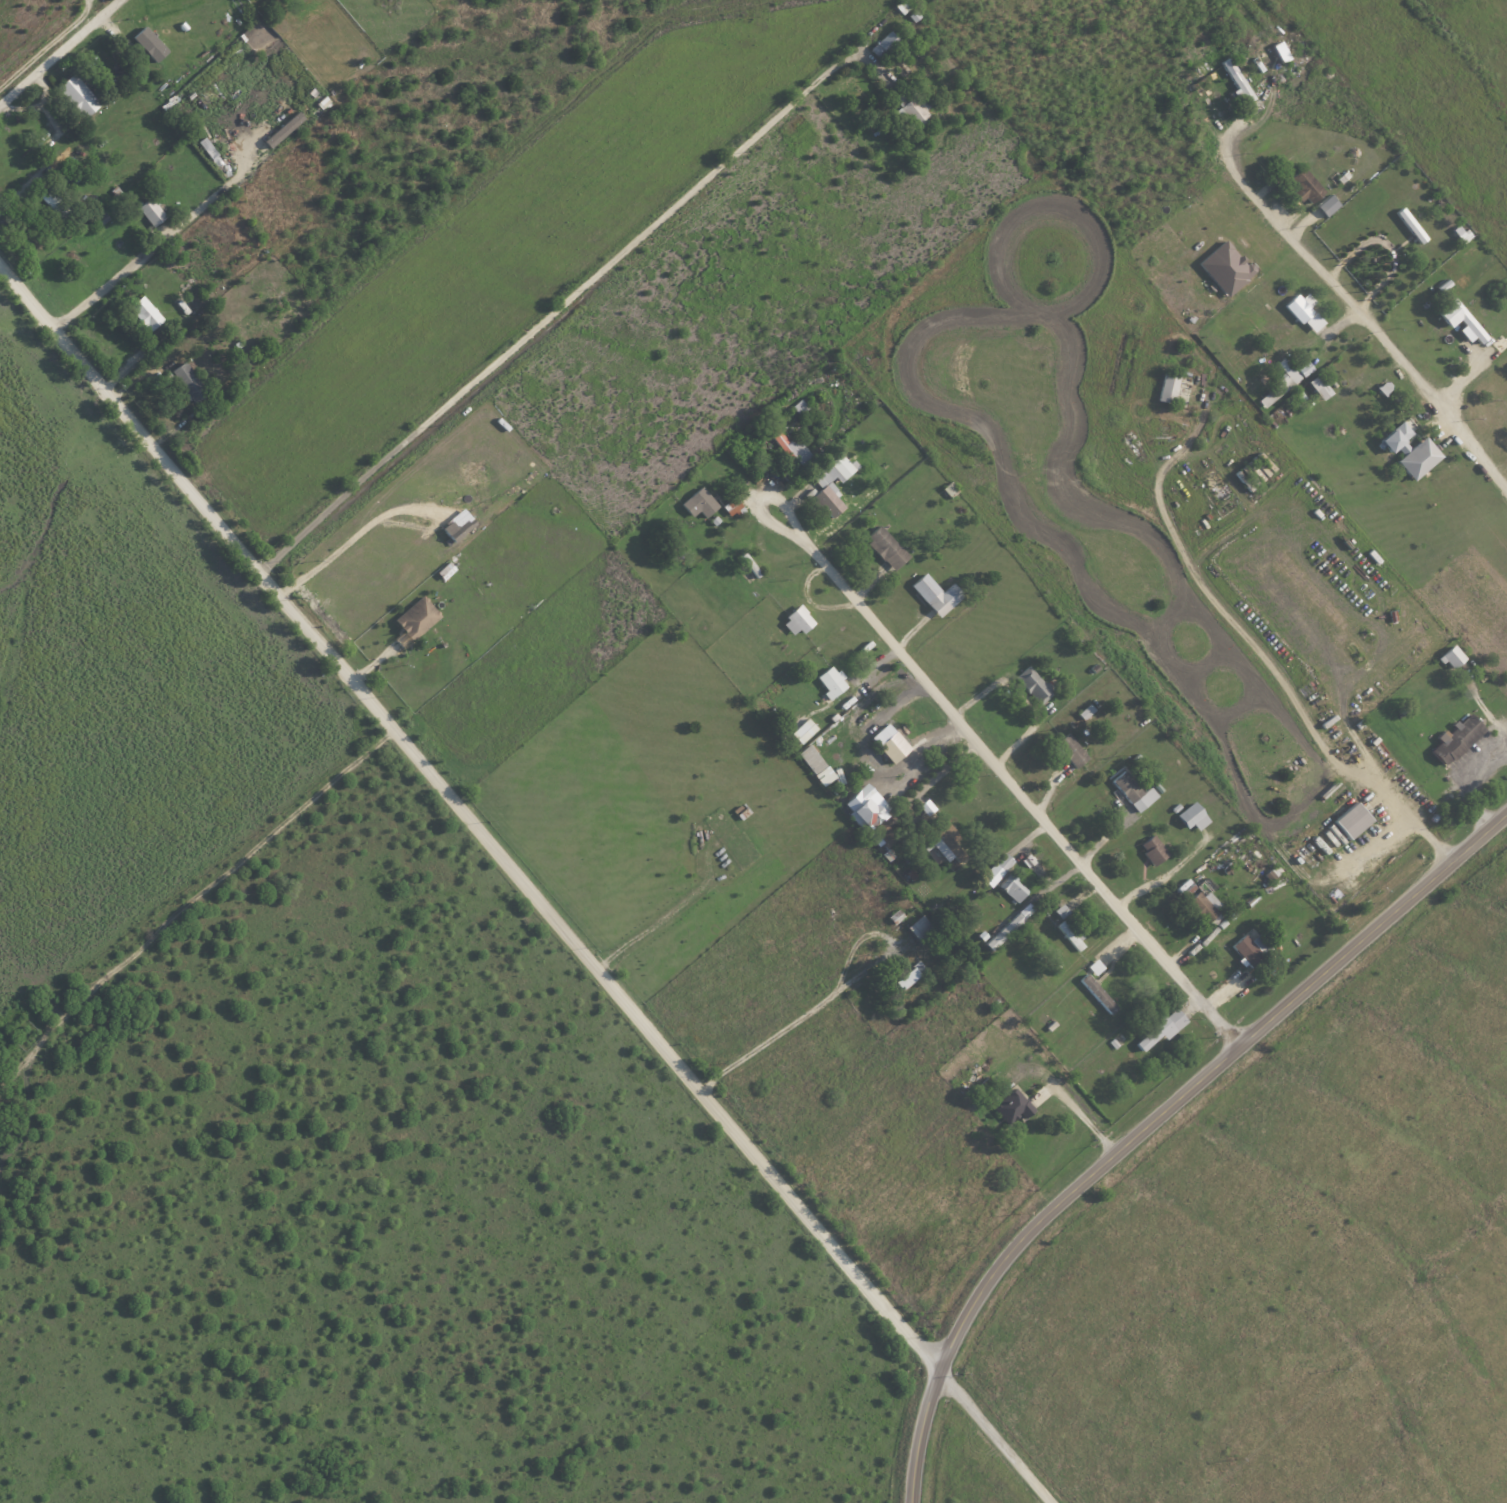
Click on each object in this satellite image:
building: (900, 5)
building: (145, 44)
building: (882, 44)
road: (60, 53)
building: (1234, 81)
building: (78, 95)
building: (908, 105)
building: (279, 130)
building: (66, 176)
building: (1303, 185)
building: (57, 203)
building: (1324, 205)
building: (147, 211)
building: (102, 218)
building: (1407, 224)
building: (1458, 232)
road: (142, 256)
building: (1222, 267)
road: (1348, 303)
building: (1302, 311)
building: (141, 312)
building: (1457, 320)
road: (544, 322)
building: (1293, 370)
building: (185, 381)
building: (1165, 387)
building: (1316, 387)
building: (797, 406)
building: (789, 448)
building: (1407, 450)
road: (1494, 466)
building: (829, 483)
building: (696, 502)
building: (730, 507)
building: (455, 525)
road: (353, 535)
building: (883, 547)
building: (933, 594)
building: (413, 618)
building: (793, 621)
road: (1258, 650)
building: (1449, 656)
building: (828, 681)
building: (1031, 684)
building: (1083, 711)
building: (801, 730)
building: (1454, 739)
building: (885, 743)
building: (1068, 749)
building: (808, 759)
road: (1000, 766)
road: (941, 770)
building: (1130, 790)
building: (861, 806)
road: (469, 817)
building: (1190, 817)
building: (1347, 820)
building: (940, 841)
building: (1151, 849)
building: (996, 870)
building: (1011, 887)
building: (1197, 900)
building: (1023, 910)
building: (1060, 911)
building: (892, 916)
building: (918, 929)
building: (1069, 936)
building: (992, 940)
building: (1248, 948)
building: (917, 967)
building: (901, 977)
road: (835, 989)
building: (1160, 1029)
building: (1010, 1105)
road: (1079, 1113)
road: (1154, 1121)
road: (996, 1434)

